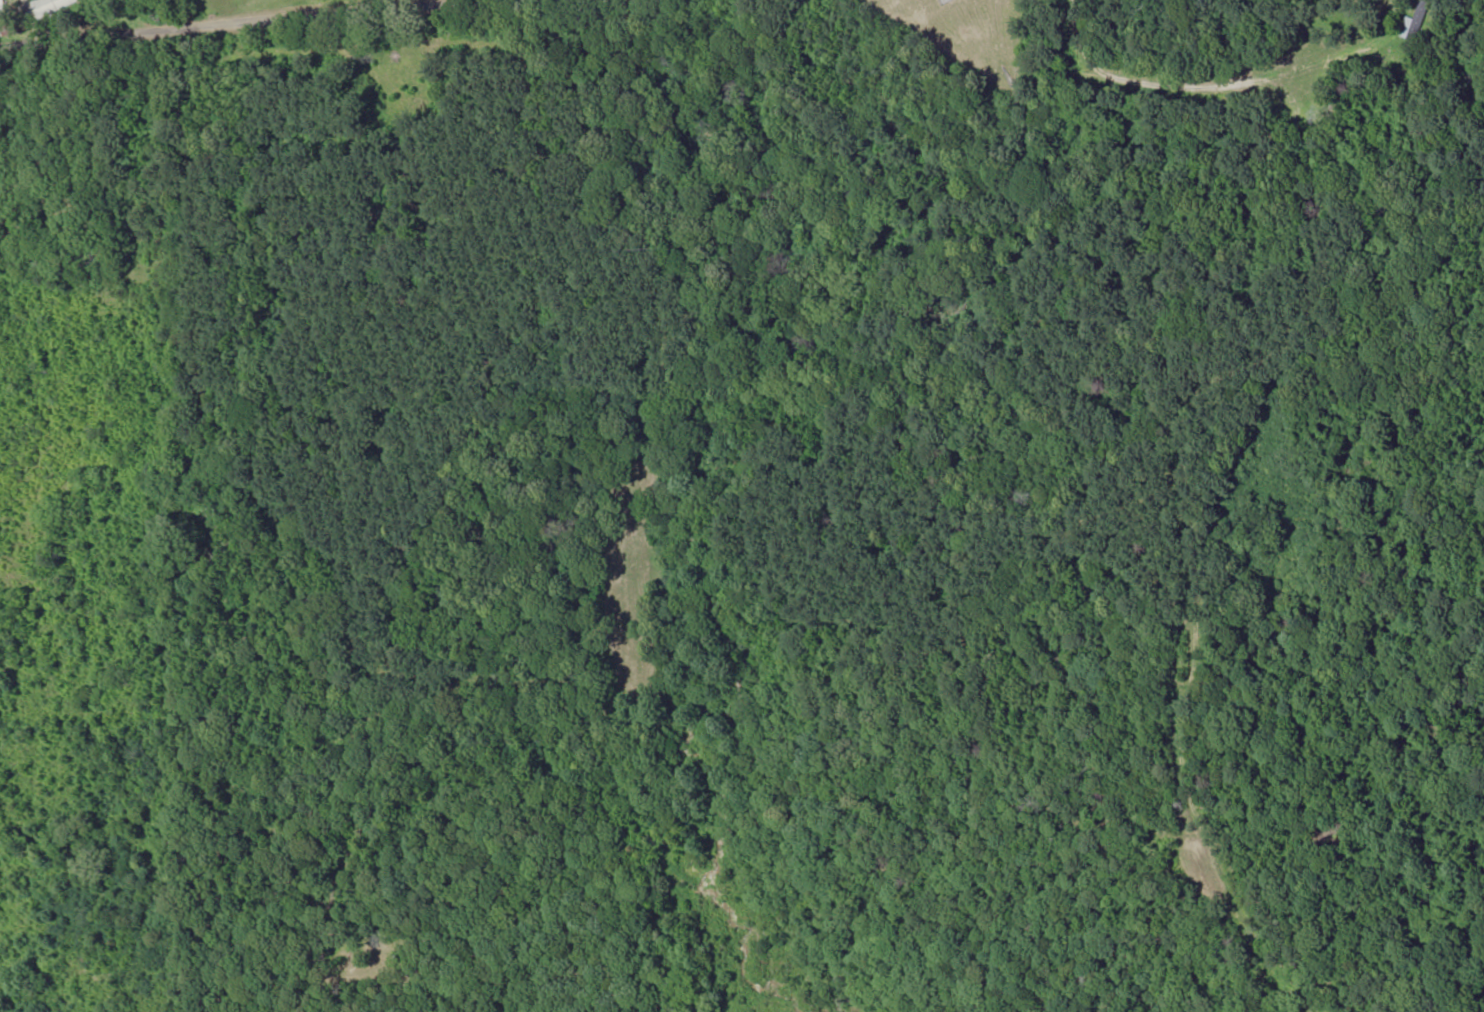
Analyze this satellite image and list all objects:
building: (49, 7)
building: (3, 11)
road: (189, 24)

